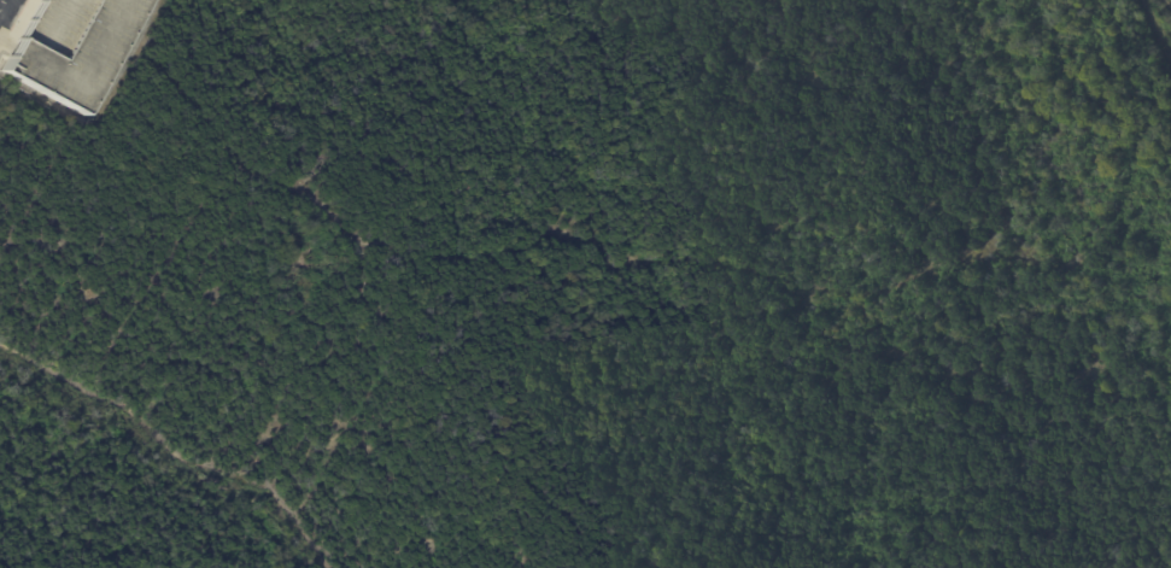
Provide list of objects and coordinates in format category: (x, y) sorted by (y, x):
road: (5, 1)
road: (4, 2)
road: (1167, 4)
road: (1155, 29)
road: (5, 42)
building: (64, 46)
parking garage: (64, 46)
road: (467, 257)
road: (170, 449)

